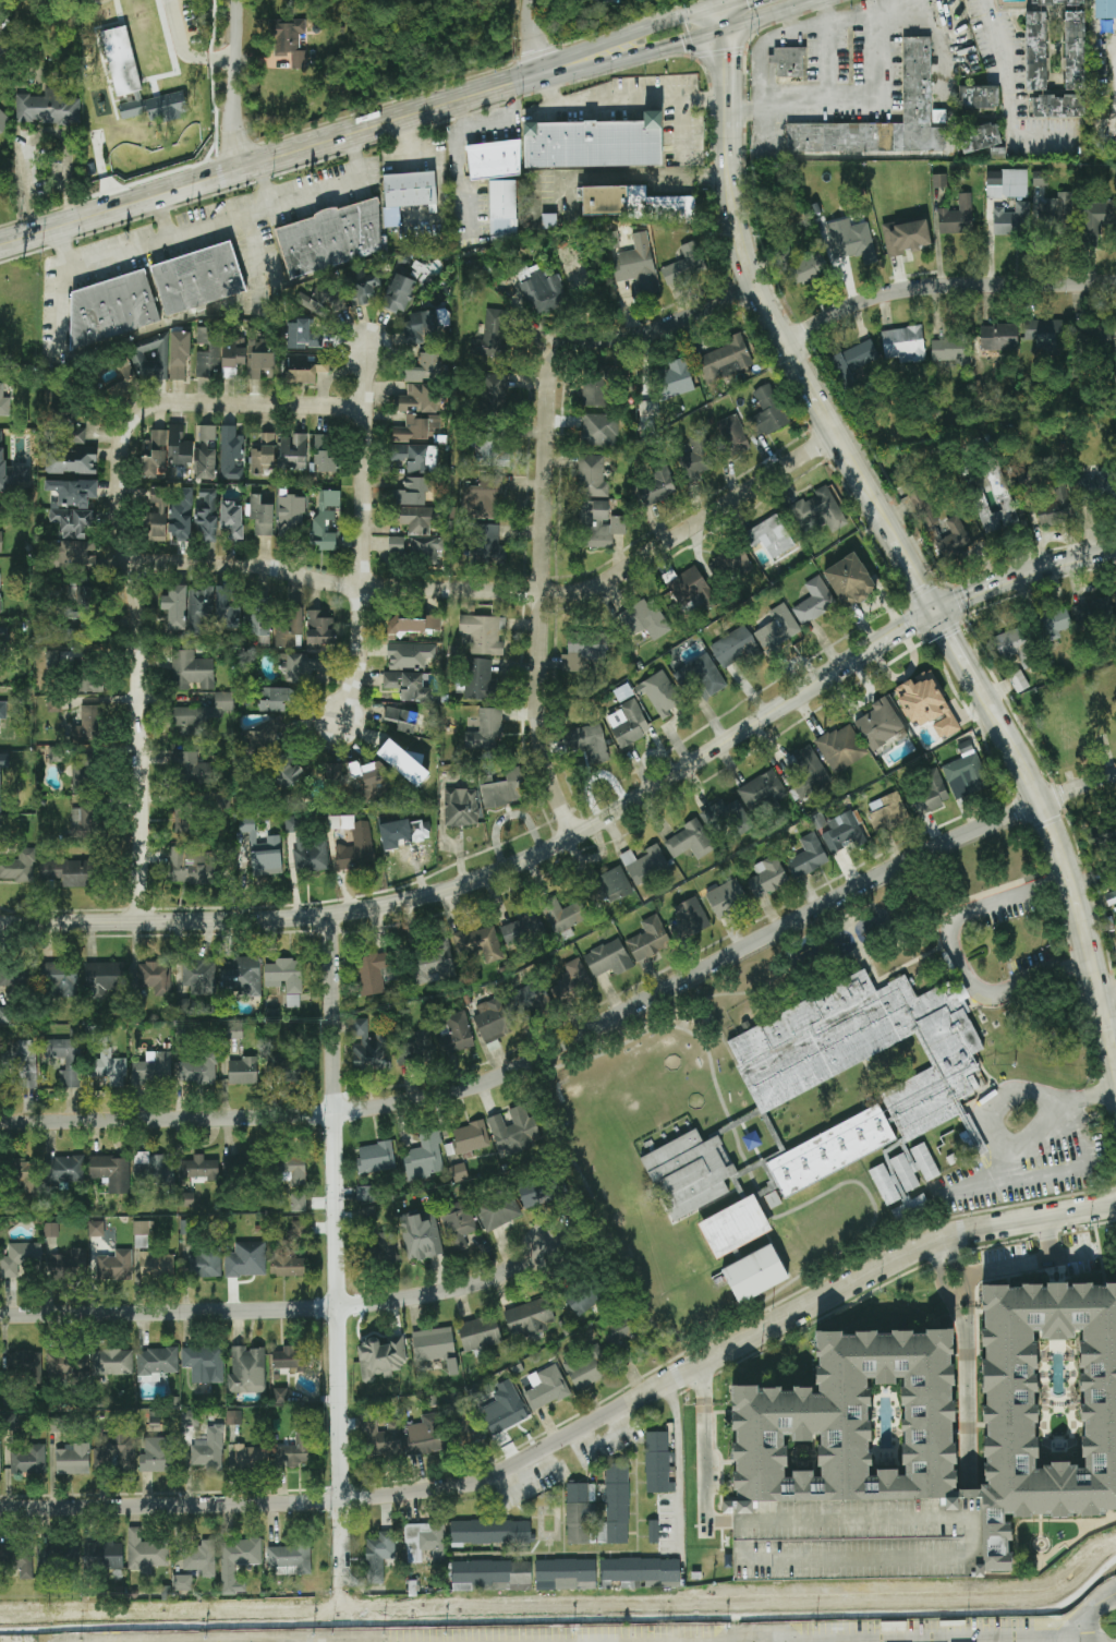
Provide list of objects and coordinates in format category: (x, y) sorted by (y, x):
road: (728, 1)
building: (1057, 2)
traffic signals: (724, 3)
road: (902, 3)
building: (1105, 9)
road: (863, 14)
road: (812, 27)
traffic signals: (725, 32)
road: (629, 33)
road: (536, 36)
building: (289, 40)
road: (680, 44)
building: (2, 46)
road: (99, 48)
road: (183, 50)
building: (1075, 50)
road: (177, 51)
building: (1035, 51)
road: (171, 53)
road: (761, 61)
building: (788, 61)
building: (917, 73)
building: (134, 79)
road: (234, 84)
road: (211, 87)
road: (1005, 95)
building: (978, 96)
road: (629, 99)
road: (852, 99)
road: (703, 100)
building: (1056, 106)
building: (48, 108)
building: (2, 122)
road: (490, 122)
road: (43, 132)
building: (980, 137)
building: (594, 143)
road: (269, 158)
building: (494, 159)
road: (461, 174)
road: (634, 178)
building: (1041, 179)
building: (939, 181)
building: (1007, 183)
road: (263, 186)
building: (407, 195)
building: (633, 204)
building: (502, 209)
building: (1056, 209)
building: (957, 217)
road: (160, 218)
building: (1010, 218)
building: (1096, 220)
road: (230, 221)
building: (549, 221)
building: (907, 237)
building: (330, 238)
building: (851, 240)
building: (632, 262)
building: (684, 264)
building: (804, 266)
building: (197, 278)
road: (57, 285)
building: (365, 286)
road: (943, 286)
building: (544, 292)
building: (398, 293)
building: (319, 301)
building: (112, 307)
building: (426, 325)
road: (660, 330)
building: (1047, 333)
building: (303, 336)
building: (1092, 336)
building: (489, 337)
building: (998, 337)
building: (903, 343)
building: (949, 349)
building: (208, 353)
building: (179, 355)
building: (232, 355)
building: (150, 359)
building: (260, 360)
building: (725, 360)
building: (853, 361)
building: (306, 369)
building: (425, 369)
building: (120, 376)
building: (675, 379)
building: (1115, 386)
building: (594, 389)
building: (494, 394)
building: (420, 398)
building: (4, 402)
building: (768, 410)
building: (647, 414)
building: (412, 430)
building: (599, 430)
building: (732, 435)
building: (492, 446)
building: (180, 447)
building: (293, 451)
building: (154, 454)
building: (231, 454)
building: (264, 454)
building: (324, 455)
building: (697, 455)
building: (416, 457)
building: (72, 461)
building: (11, 472)
building: (592, 476)
building: (1028, 479)
building: (1097, 487)
building: (413, 490)
building: (652, 493)
building: (482, 498)
building: (72, 506)
building: (815, 506)
building: (1055, 510)
building: (157, 514)
building: (207, 515)
building: (995, 515)
building: (181, 516)
building: (262, 516)
building: (291, 516)
building: (232, 519)
building: (325, 519)
building: (598, 524)
building: (941, 528)
road: (365, 531)
building: (420, 532)
building: (769, 538)
building: (396, 544)
building: (489, 545)
road: (895, 546)
road: (128, 551)
building: (74, 556)
building: (729, 565)
road: (1064, 567)
building: (849, 580)
building: (691, 590)
road: (502, 591)
building: (1115, 594)
road: (543, 596)
road: (973, 597)
building: (0, 599)
building: (814, 601)
building: (80, 602)
building: (189, 607)
road: (870, 607)
building: (226, 611)
traffic signals: (934, 614)
building: (1093, 614)
building: (414, 623)
building: (643, 624)
building: (1055, 624)
building: (259, 626)
building: (66, 629)
building: (289, 629)
building: (319, 629)
road: (908, 630)
building: (778, 631)
building: (483, 633)
building: (3, 639)
building: (1016, 647)
road: (826, 648)
building: (583, 649)
building: (729, 649)
building: (409, 655)
building: (64, 659)
building: (300, 667)
building: (191, 671)
building: (706, 674)
road: (907, 675)
building: (480, 680)
building: (1019, 680)
building: (89, 683)
building: (415, 688)
building: (623, 692)
building: (662, 695)
building: (278, 699)
road: (742, 701)
building: (926, 703)
road: (862, 704)
building: (3, 709)
building: (203, 712)
road: (809, 716)
building: (405, 721)
building: (629, 723)
building: (89, 724)
building: (878, 724)
building: (486, 731)
building: (264, 736)
building: (585, 737)
building: (840, 748)
building: (54, 753)
building: (403, 763)
building: (192, 769)
building: (805, 770)
building: (283, 771)
building: (336, 773)
building: (966, 773)
building: (85, 774)
building: (371, 781)
building: (762, 788)
building: (504, 790)
building: (931, 794)
building: (461, 807)
building: (885, 813)
road: (652, 816)
building: (187, 817)
building: (725, 818)
building: (85, 822)
building: (292, 824)
building: (1105, 831)
building: (845, 832)
building: (689, 841)
building: (354, 843)
building: (260, 848)
building: (311, 856)
building: (806, 856)
building: (644, 864)
building: (17, 866)
building: (191, 866)
building: (71, 872)
building: (767, 877)
road: (471, 883)
building: (610, 885)
building: (1111, 897)
building: (726, 898)
building: (562, 915)
building: (692, 915)
building: (523, 929)
building: (647, 940)
building: (478, 943)
building: (607, 957)
road: (959, 957)
building: (433, 963)
building: (373, 973)
building: (577, 975)
building: (156, 977)
building: (199, 977)
building: (241, 977)
building: (15, 978)
building: (105, 978)
building: (286, 979)
building: (60, 980)
road: (1106, 991)
building: (529, 999)
building: (183, 1006)
building: (5, 1015)
building: (493, 1021)
building: (231, 1031)
building: (182, 1033)
building: (456, 1033)
road: (581, 1038)
building: (371, 1047)
building: (416, 1048)
building: (62, 1061)
building: (110, 1068)
building: (153, 1068)
building: (197, 1070)
building: (243, 1071)
building: (283, 1071)
road: (1015, 1087)
road: (1084, 1098)
building: (895, 1121)
building: (514, 1131)
building: (470, 1137)
building: (375, 1158)
building: (424, 1158)
building: (924, 1162)
building: (236, 1166)
building: (201, 1168)
building: (63, 1170)
building: (292, 1170)
building: (905, 1171)
road: (1058, 1171)
building: (111, 1172)
building: (154, 1172)
building: (459, 1172)
building: (24, 1175)
building: (365, 1193)
building: (186, 1199)
building: (298, 1202)
building: (910, 1208)
building: (497, 1210)
building: (368, 1212)
building: (458, 1224)
building: (185, 1227)
building: (51, 1229)
building: (96, 1229)
building: (298, 1230)
building: (141, 1234)
building: (420, 1237)
road: (1051, 1237)
building: (384, 1247)
building: (20, 1258)
building: (246, 1260)
road: (339, 1261)
road: (1022, 1263)
building: (205, 1264)
building: (287, 1264)
building: (70, 1265)
building: (156, 1265)
building: (114, 1266)
building: (754, 1273)
building: (582, 1300)
road: (282, 1311)
building: (529, 1318)
building: (480, 1333)
building: (621, 1339)
building: (436, 1348)
building: (290, 1359)
building: (380, 1359)
building: (112, 1362)
building: (156, 1362)
building: (24, 1363)
building: (204, 1363)
building: (64, 1364)
building: (587, 1367)
building: (246, 1371)
building: (546, 1387)
building: (280, 1396)
building: (1010, 1401)
building: (504, 1409)
building: (10, 1422)
building: (853, 1423)
building: (58, 1424)
road: (575, 1432)
building: (425, 1435)
road: (607, 1438)
building: (383, 1439)
building: (0, 1449)
building: (117, 1449)
building: (293, 1453)
building: (157, 1454)
building: (207, 1454)
building: (251, 1458)
building: (28, 1460)
building: (73, 1460)
building: (657, 1461)
road: (677, 1461)
building: (581, 1512)
road: (759, 1522)
road: (973, 1526)
building: (653, 1531)
building: (492, 1532)
building: (860, 1540)
parking lot: (860, 1540)
building: (424, 1541)
building: (146, 1552)
building: (58, 1555)
building: (105, 1555)
building: (290, 1556)
building: (378, 1556)
building: (201, 1558)
building: (17, 1560)
building: (238, 1562)
building: (639, 1572)
building: (566, 1574)
building: (490, 1575)
building: (182, 1582)
road: (1092, 1617)
parking lot: (1115, 1637)
road: (874, 1638)

